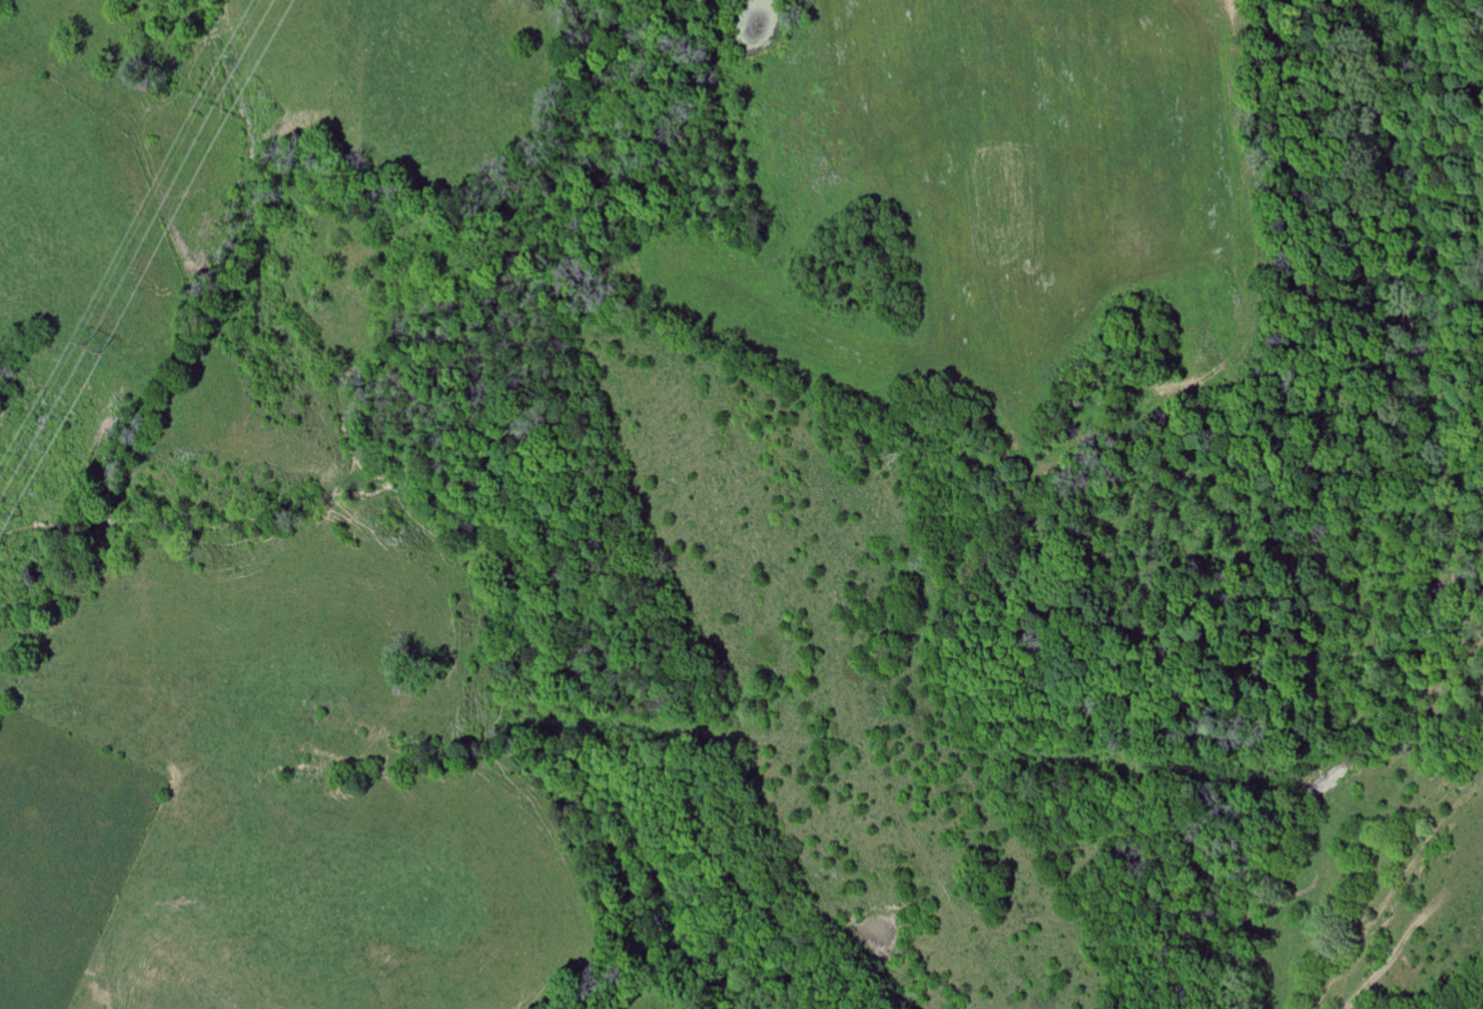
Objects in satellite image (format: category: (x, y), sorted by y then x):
power tower: (88, 348)

